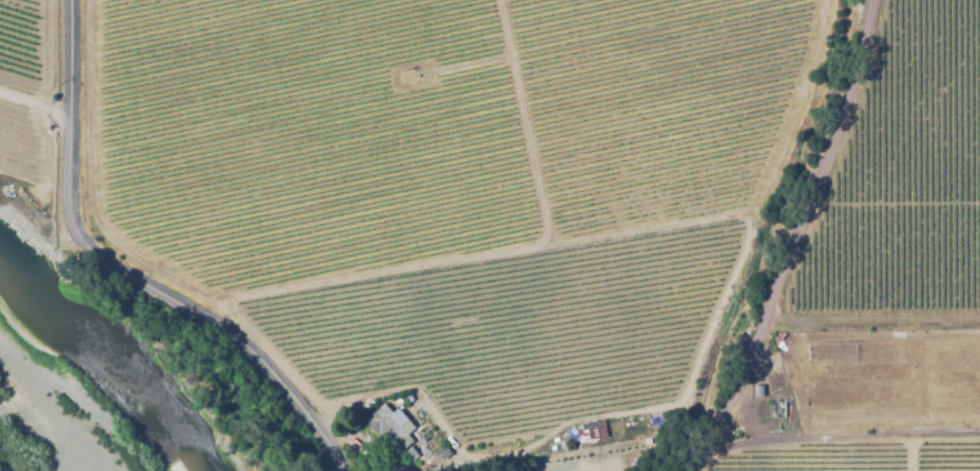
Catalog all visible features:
road: (35, 105)
road: (785, 239)
road: (122, 282)
building: (759, 389)
building: (407, 397)
building: (775, 408)
building: (391, 428)
building: (593, 431)
road: (838, 438)
building: (649, 440)
building: (509, 446)
building: (432, 447)
building: (445, 452)
road: (913, 454)
building: (391, 463)

